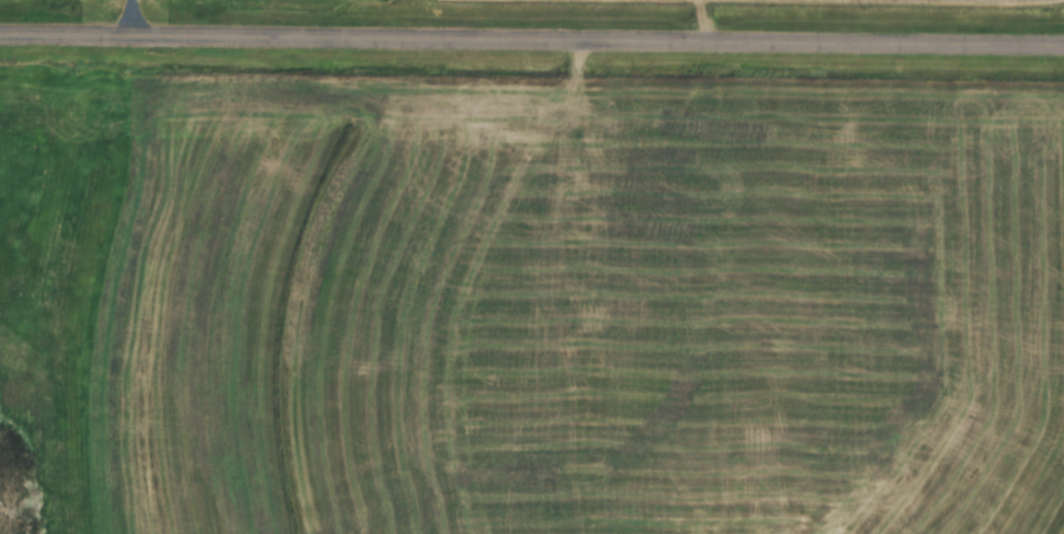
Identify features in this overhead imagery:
road: (132, 20)
road: (531, 44)

